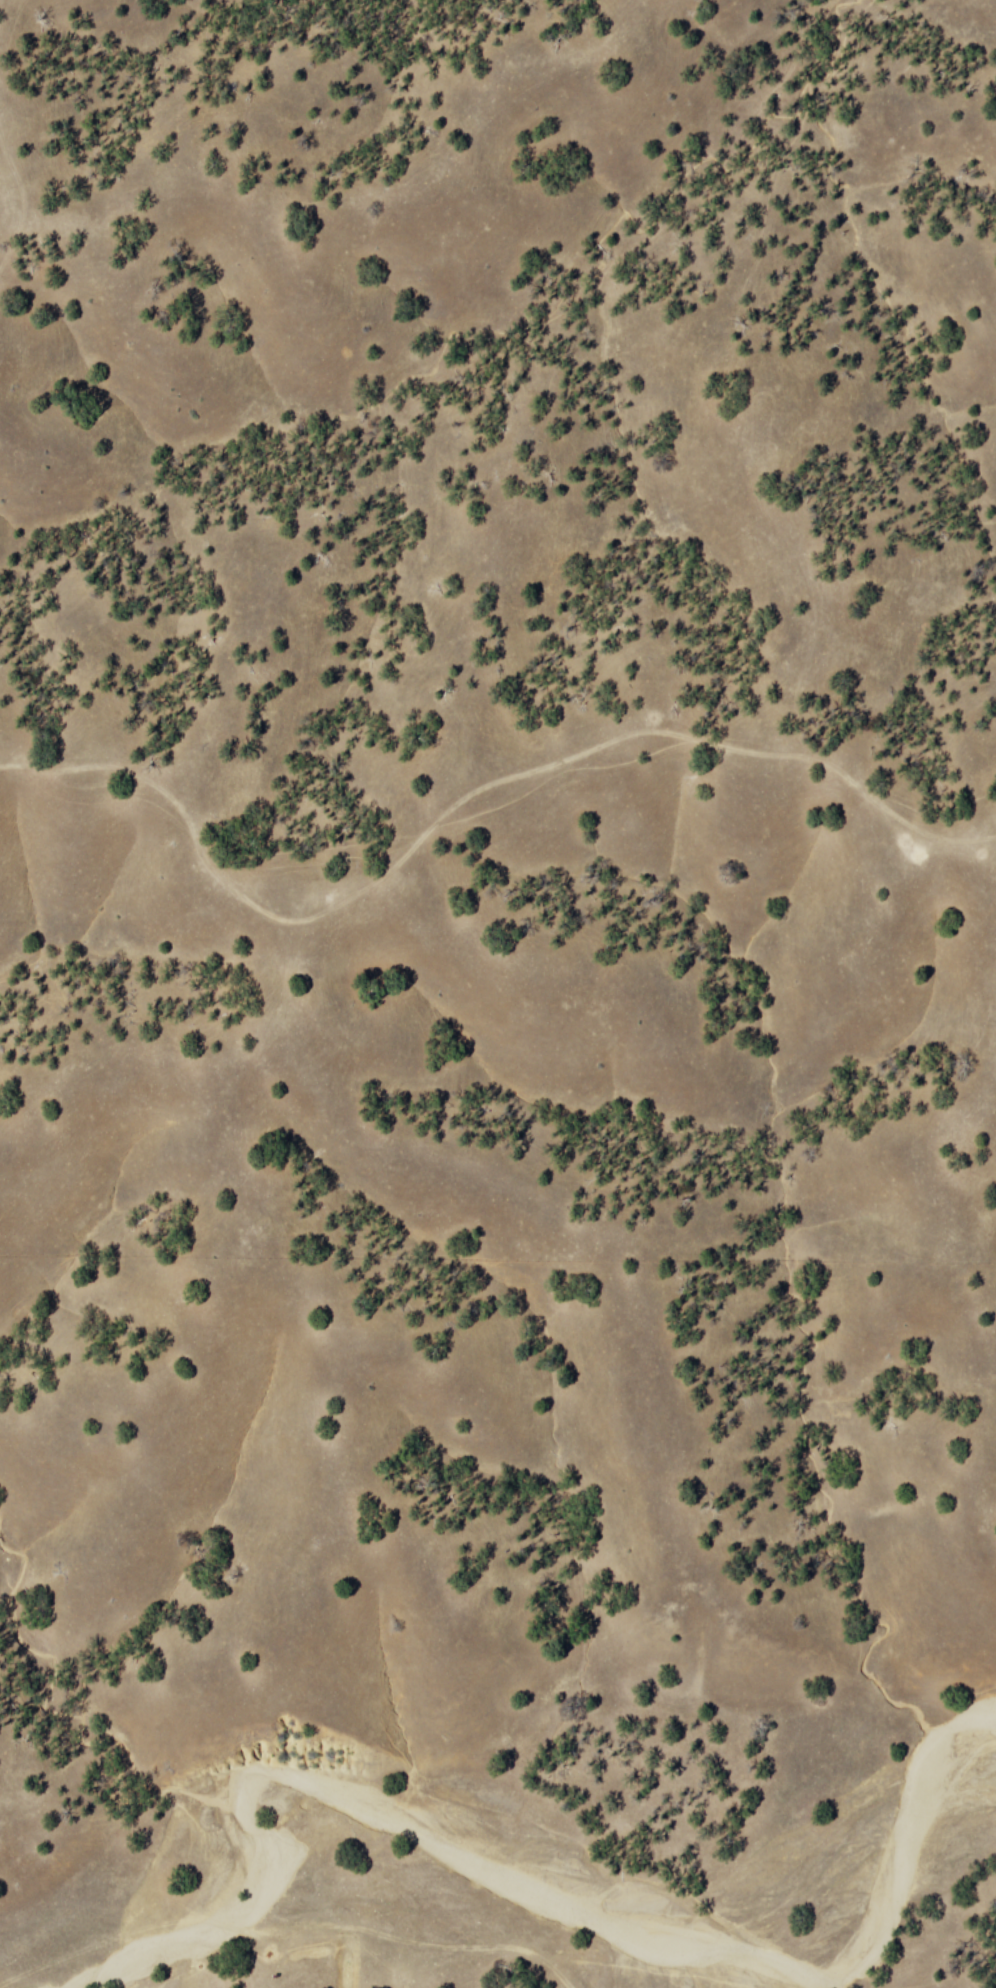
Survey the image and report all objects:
river: (540, 1896)
road: (418, 1940)

